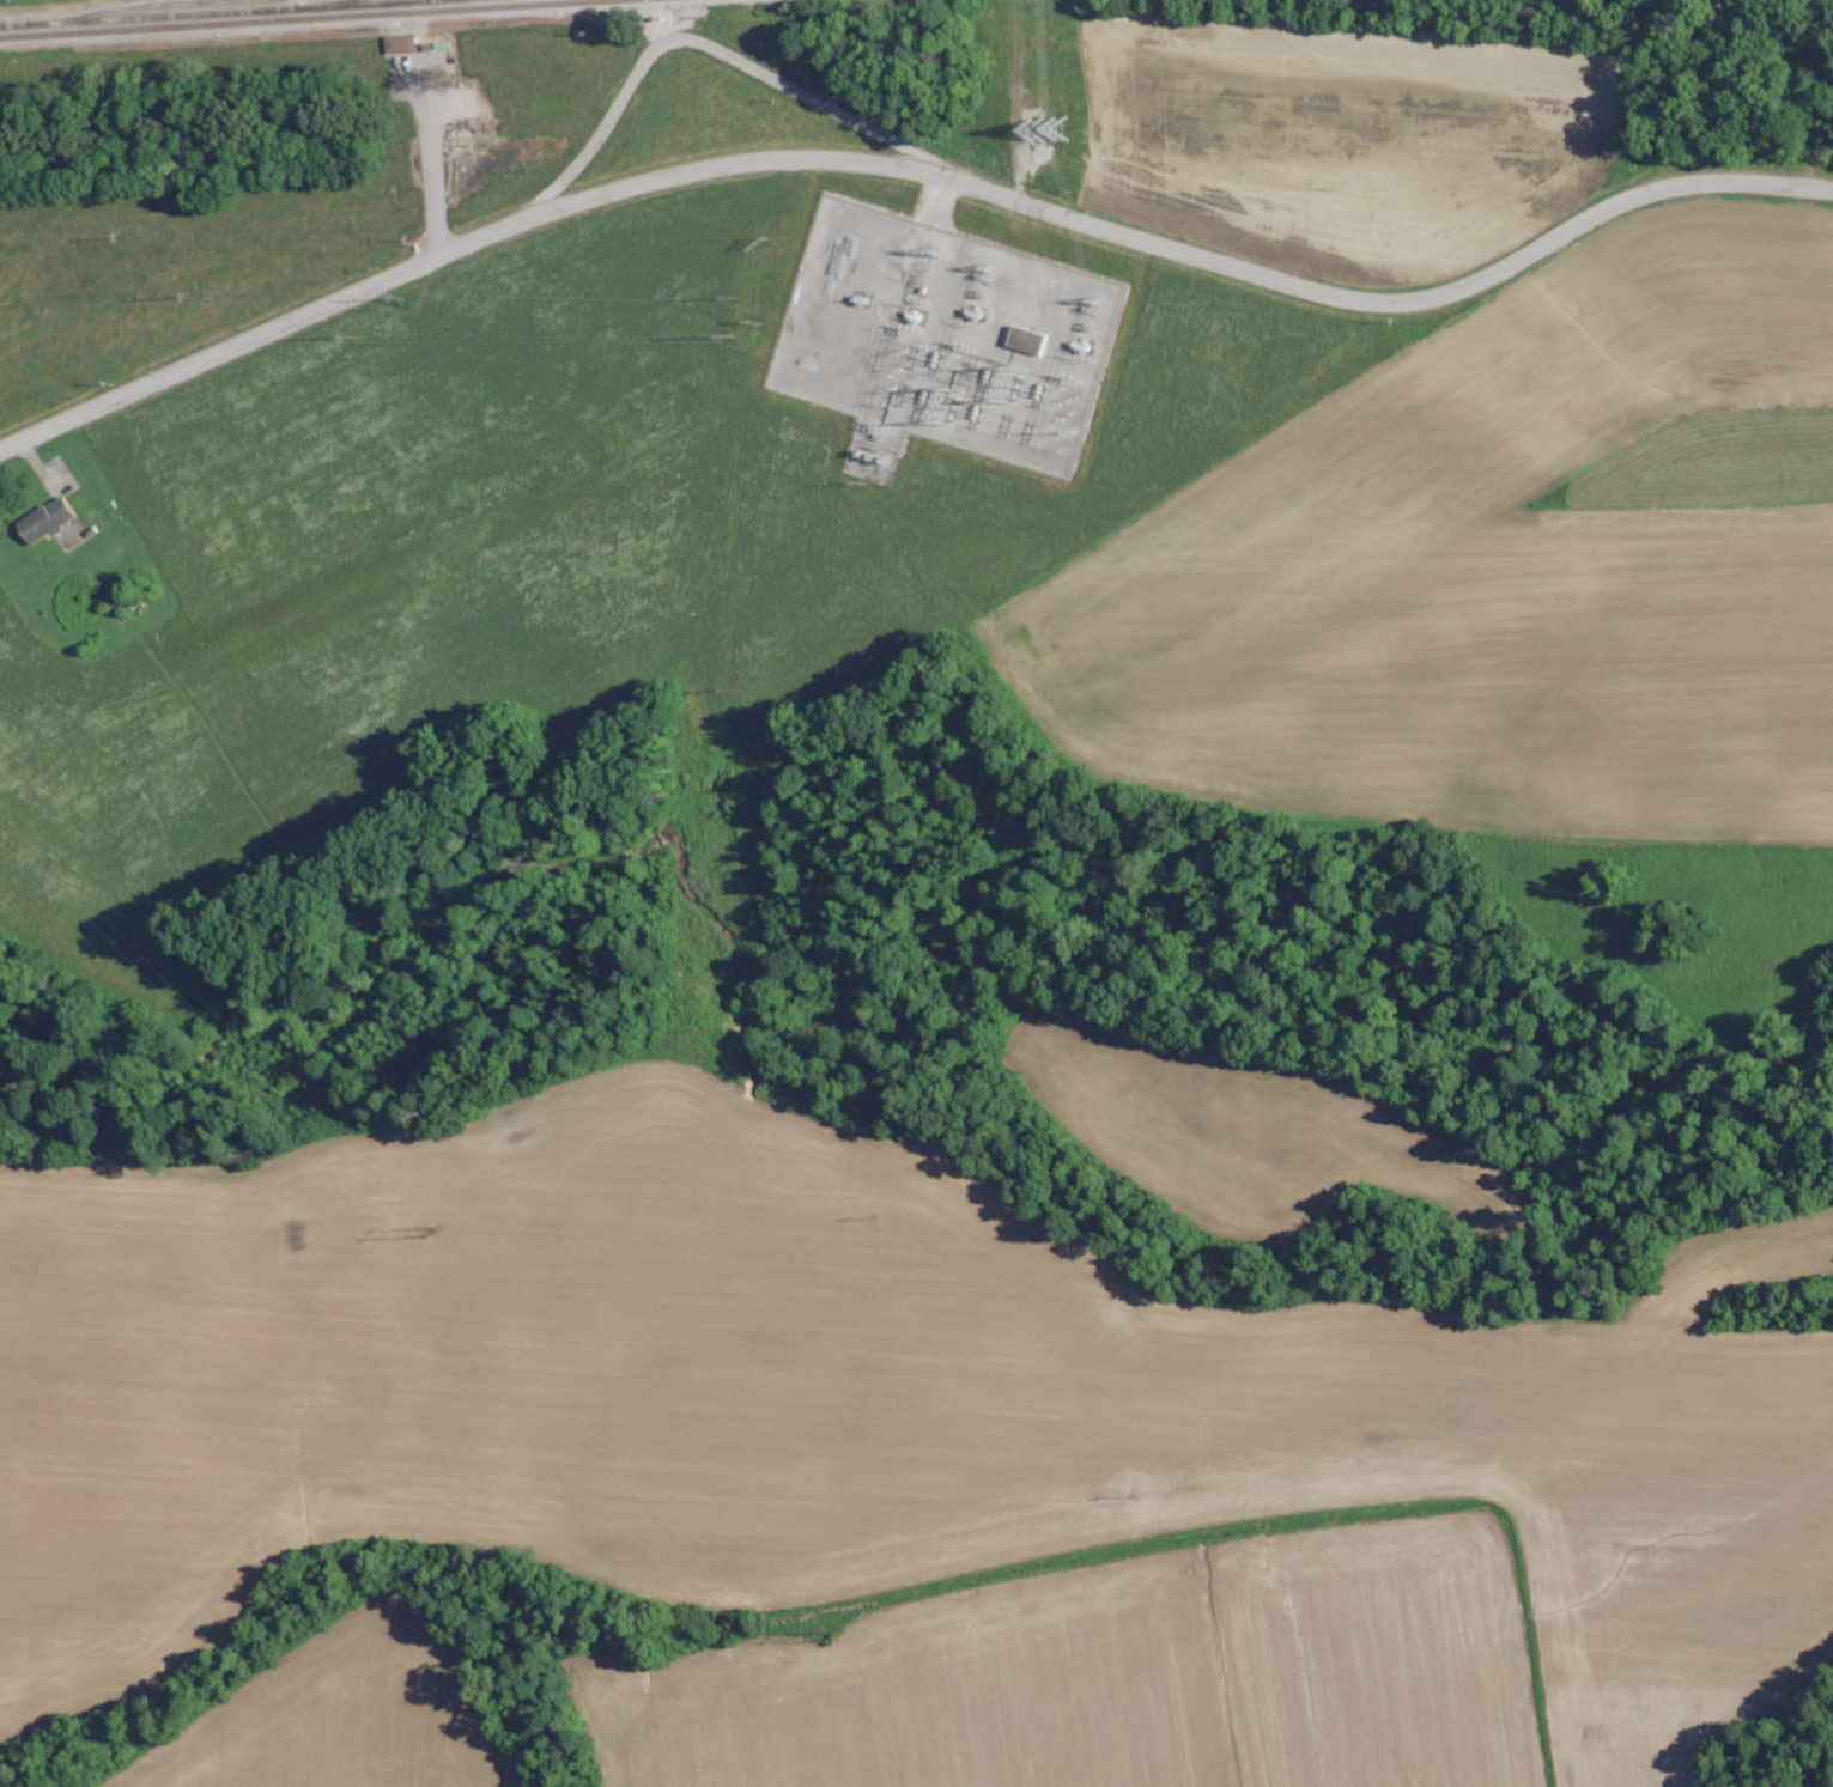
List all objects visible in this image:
railway: (346, 2)
railway: (208, 13)
railway: (292, 17)
building: (402, 43)
road: (910, 168)
power substation: (942, 336)
building: (1027, 340)
building: (47, 519)
power tower: (431, 1236)
power tower: (832, 1629)

